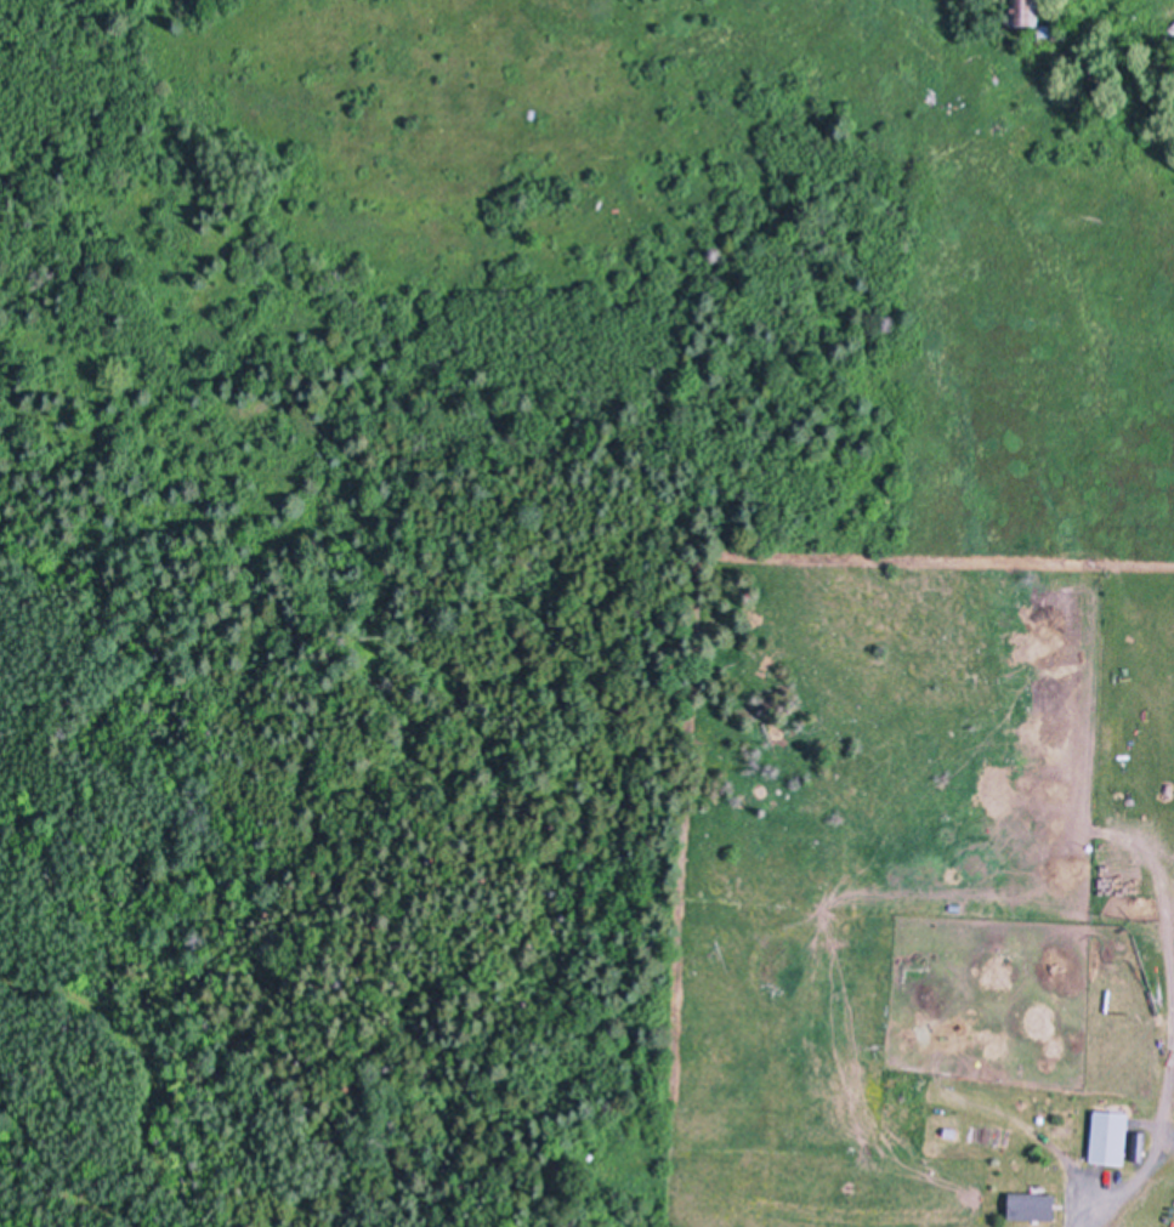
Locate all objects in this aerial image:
building: (1027, 13)
building: (1054, 34)
building: (898, 1097)
building: (1112, 1132)
building: (1033, 1204)
road: (1088, 1216)

